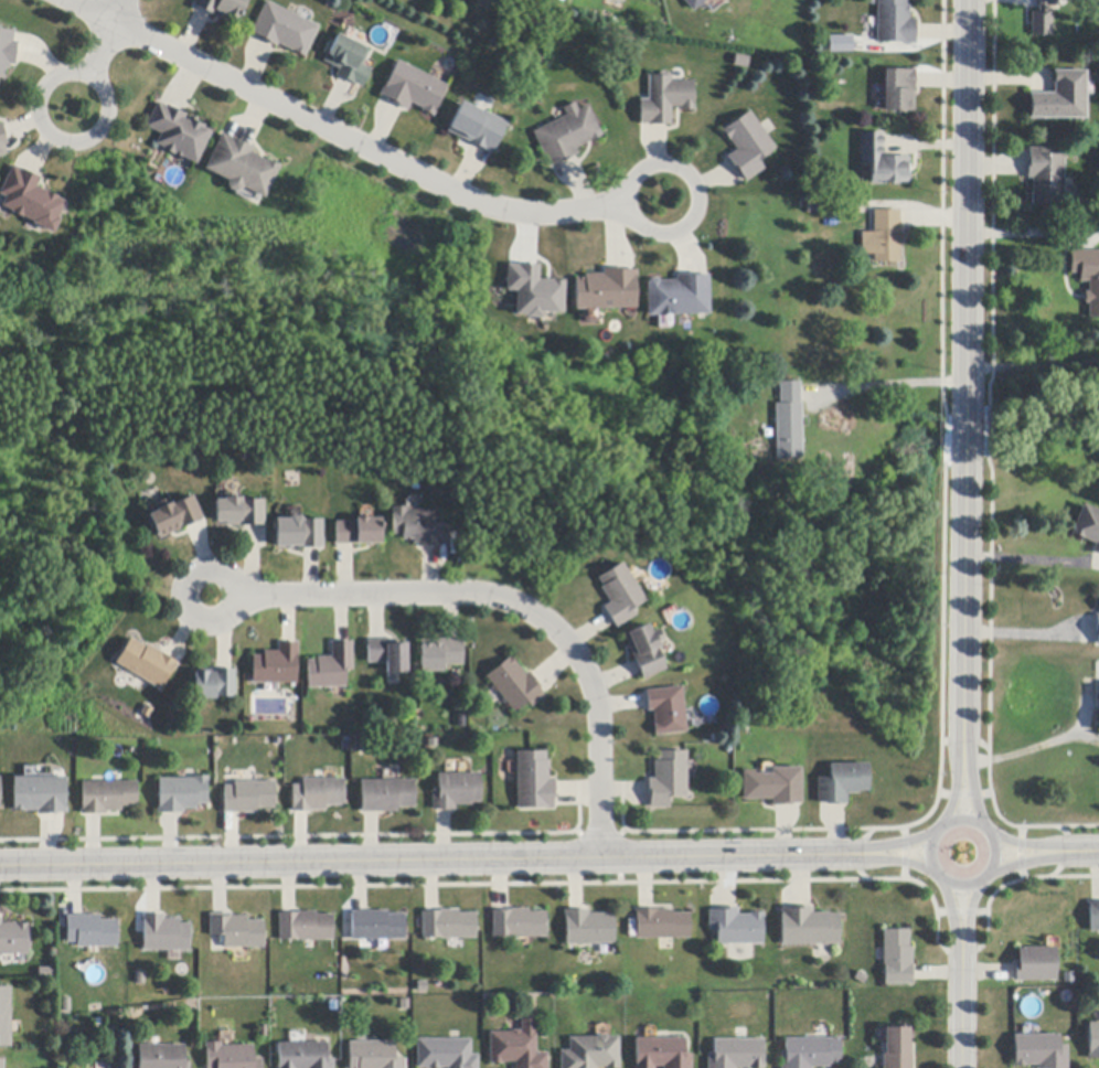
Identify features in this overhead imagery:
building: (693, 3)
building: (222, 9)
building: (1043, 19)
building: (895, 23)
building: (284, 29)
road: (108, 38)
building: (839, 42)
building: (6, 51)
building: (348, 61)
road: (49, 78)
building: (413, 89)
building: (898, 90)
building: (1061, 98)
building: (664, 99)
building: (477, 128)
building: (178, 133)
road: (340, 135)
building: (566, 135)
building: (1, 142)
building: (747, 146)
building: (882, 161)
building: (241, 167)
building: (1045, 178)
building: (30, 201)
building: (832, 207)
road: (655, 233)
road: (1029, 233)
building: (886, 236)
building: (1087, 278)
building: (605, 290)
building: (536, 292)
building: (677, 296)
road: (1033, 366)
road: (967, 372)
road: (884, 385)
park: (1041, 413)
building: (788, 420)
park: (434, 460)
building: (238, 512)
building: (173, 516)
building: (1087, 525)
building: (419, 527)
building: (359, 532)
building: (298, 533)
road: (1032, 559)
building: (620, 595)
road: (504, 599)
building: (1096, 620)
road: (1025, 633)
building: (644, 651)
building: (387, 654)
building: (439, 654)
building: (146, 663)
building: (276, 665)
building: (331, 667)
building: (214, 684)
building: (514, 685)
building: (666, 711)
building: (1098, 717)
building: (361, 746)
road: (1033, 748)
building: (668, 779)
building: (534, 781)
building: (842, 783)
road: (957, 786)
building: (773, 787)
road: (970, 787)
building: (456, 791)
building: (182, 794)
building: (317, 794)
building: (40, 795)
building: (386, 795)
building: (107, 797)
building: (248, 798)
road: (991, 836)
road: (888, 845)
road: (1034, 846)
road: (1088, 851)
road: (888, 858)
road: (1032, 859)
road: (419, 861)
building: (1095, 917)
road: (956, 921)
road: (965, 922)
building: (449, 925)
building: (520, 925)
building: (662, 925)
building: (377, 926)
building: (306, 927)
building: (737, 927)
building: (589, 928)
building: (810, 928)
building: (92, 931)
building: (237, 931)
building: (166, 934)
building: (13, 939)
building: (897, 958)
building: (1036, 965)
road: (960, 1016)
building: (6, 1017)
building: (1093, 1042)
building: (516, 1047)
building: (897, 1047)
building: (1039, 1051)
building: (591, 1053)
building: (811, 1053)
building: (446, 1054)
building: (662, 1054)
building: (737, 1054)
building: (303, 1056)
building: (373, 1056)
building: (162, 1057)
building: (231, 1057)
building: (1, 1064)

